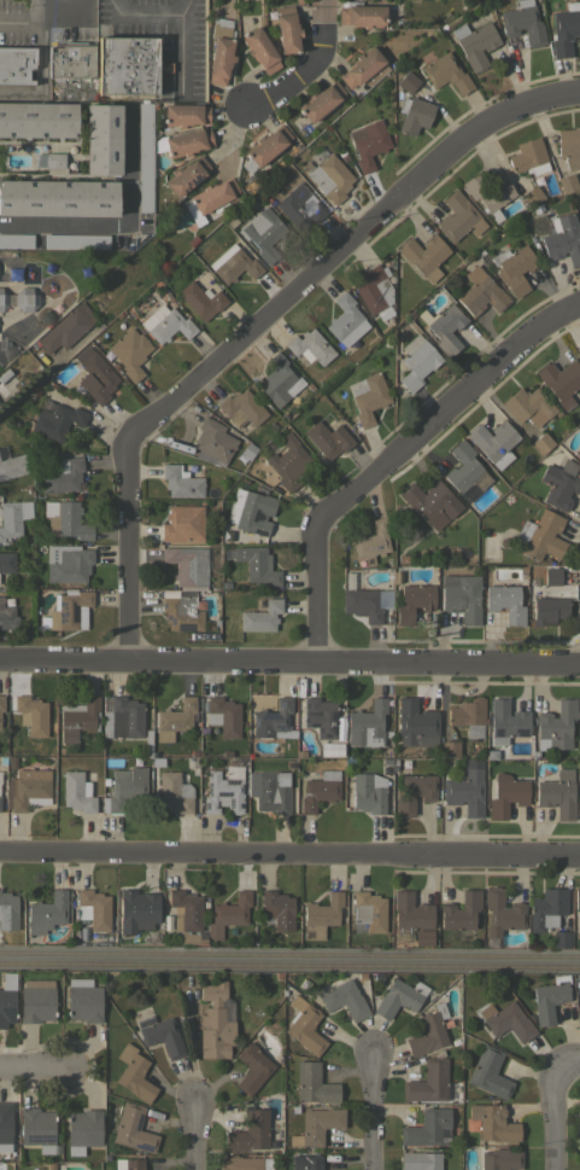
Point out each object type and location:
road: (60, 13)
building: (361, 13)
road: (24, 17)
road: (150, 17)
building: (522, 23)
building: (564, 28)
building: (287, 29)
building: (475, 43)
building: (259, 50)
building: (221, 52)
road: (178, 54)
building: (71, 60)
building: (16, 64)
building: (127, 65)
road: (309, 69)
building: (363, 69)
road: (42, 71)
building: (446, 74)
building: (408, 81)
building: (320, 100)
building: (184, 113)
building: (414, 115)
building: (37, 118)
building: (102, 138)
building: (183, 142)
building: (368, 142)
building: (569, 146)
building: (264, 147)
building: (145, 156)
building: (528, 157)
building: (49, 159)
building: (186, 175)
building: (329, 179)
building: (567, 182)
building: (490, 193)
building: (531, 196)
building: (58, 198)
building: (211, 199)
building: (299, 206)
building: (458, 217)
road: (118, 225)
building: (264, 233)
building: (563, 239)
building: (16, 240)
building: (76, 240)
building: (423, 255)
building: (233, 263)
building: (514, 268)
building: (374, 289)
building: (481, 292)
building: (19, 298)
building: (200, 299)
building: (344, 319)
road: (263, 321)
building: (165, 324)
building: (445, 327)
building: (63, 331)
building: (310, 347)
building: (130, 353)
building: (416, 361)
building: (94, 374)
road: (478, 376)
building: (2, 379)
building: (279, 380)
building: (561, 380)
building: (368, 397)
building: (527, 404)
building: (241, 408)
building: (57, 421)
building: (324, 437)
building: (579, 440)
building: (213, 441)
building: (493, 442)
building: (541, 442)
building: (288, 462)
building: (11, 464)
building: (464, 468)
building: (63, 475)
building: (181, 482)
building: (560, 483)
building: (424, 497)
building: (251, 511)
building: (12, 517)
building: (65, 519)
building: (182, 524)
building: (541, 536)
building: (370, 541)
road: (316, 547)
building: (7, 561)
building: (68, 563)
building: (257, 564)
building: (187, 565)
building: (552, 576)
building: (461, 596)
building: (364, 603)
building: (412, 603)
building: (505, 603)
building: (68, 610)
building: (549, 610)
building: (182, 613)
building: (260, 616)
building: (7, 619)
road: (193, 662)
road: (482, 664)
building: (1, 703)
building: (31, 715)
building: (225, 715)
building: (176, 716)
building: (316, 716)
building: (468, 716)
building: (80, 717)
building: (123, 717)
building: (273, 718)
building: (505, 720)
building: (416, 723)
building: (367, 724)
building: (555, 726)
building: (449, 749)
building: (579, 786)
building: (124, 787)
building: (318, 788)
building: (28, 790)
building: (224, 790)
building: (465, 791)
building: (77, 792)
building: (175, 792)
building: (368, 792)
building: (414, 792)
building: (270, 793)
building: (505, 794)
building: (557, 794)
building: (579, 811)
building: (579, 817)
road: (193, 852)
road: (482, 854)
building: (576, 901)
building: (92, 908)
building: (546, 908)
building: (277, 909)
building: (7, 910)
building: (136, 910)
building: (184, 910)
building: (368, 910)
building: (461, 910)
building: (502, 912)
building: (46, 914)
building: (228, 914)
building: (321, 915)
building: (409, 915)
building: (189, 938)
building: (560, 938)
railway: (289, 950)
railway: (289, 964)
building: (7, 999)
building: (344, 999)
building: (396, 999)
building: (549, 999)
building: (36, 1000)
building: (83, 1000)
building: (506, 1020)
building: (215, 1023)
building: (304, 1025)
building: (428, 1031)
building: (160, 1035)
building: (252, 1067)
road: (35, 1070)
building: (488, 1072)
building: (134, 1073)
building: (428, 1082)
building: (314, 1084)
road: (552, 1104)
road: (374, 1110)
building: (578, 1120)
building: (492, 1122)
building: (5, 1125)
building: (317, 1125)
building: (426, 1127)
building: (36, 1128)
building: (82, 1129)
building: (133, 1129)
building: (250, 1131)
road: (195, 1134)
building: (420, 1160)
building: (499, 1160)
building: (306, 1162)
building: (131, 1163)
building: (240, 1163)
building: (579, 1169)

